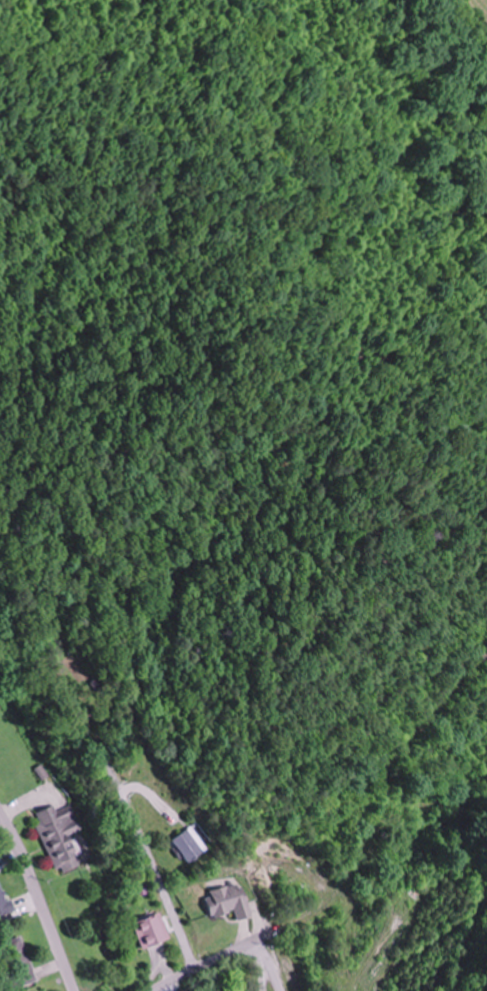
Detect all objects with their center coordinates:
building: (61, 837)
building: (195, 845)
road: (158, 877)
road: (42, 896)
building: (4, 901)
building: (233, 902)
road: (237, 917)
building: (154, 931)
road: (231, 952)
building: (21, 962)
road: (268, 965)
building: (240, 990)

